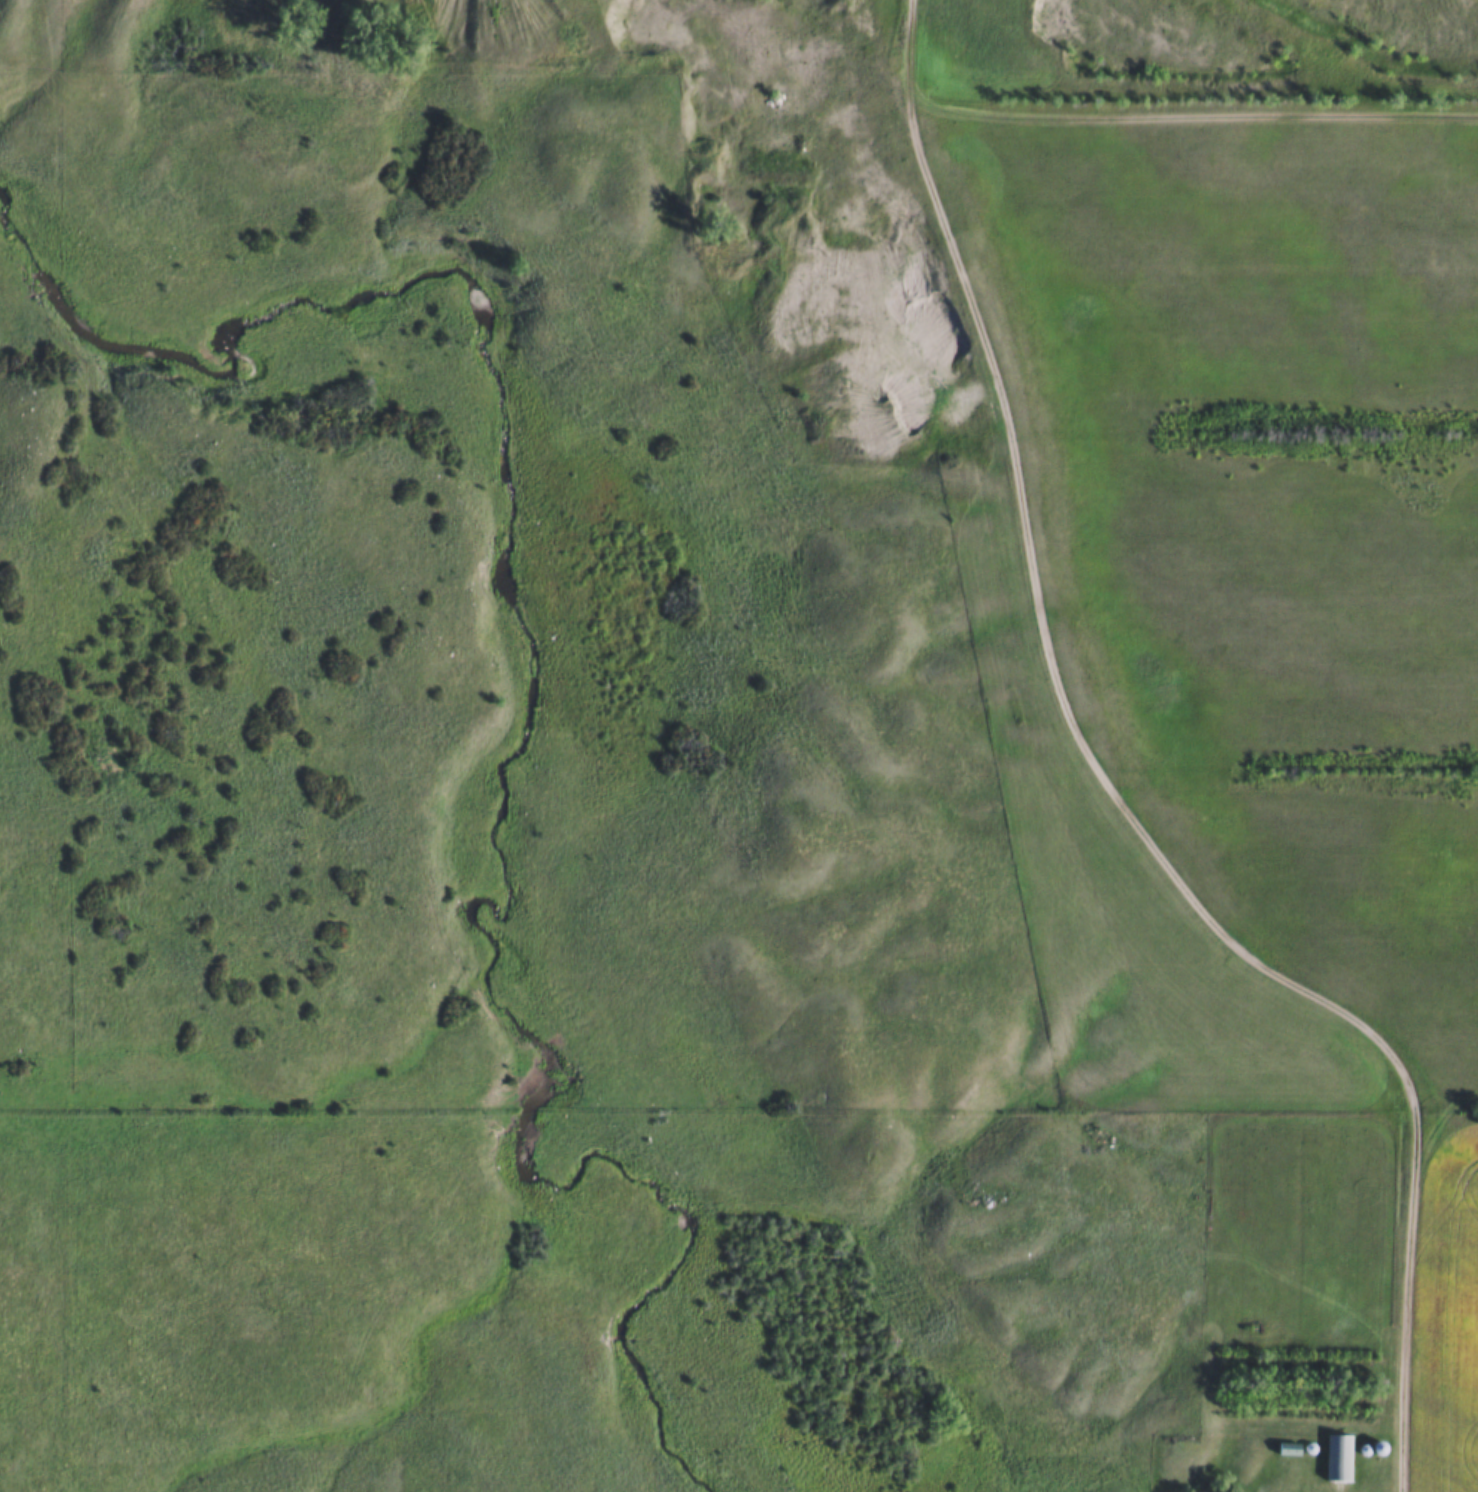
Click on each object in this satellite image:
quarry: (1057, 21)
quarry: (697, 174)
road: (1114, 790)
building: (1343, 1459)

